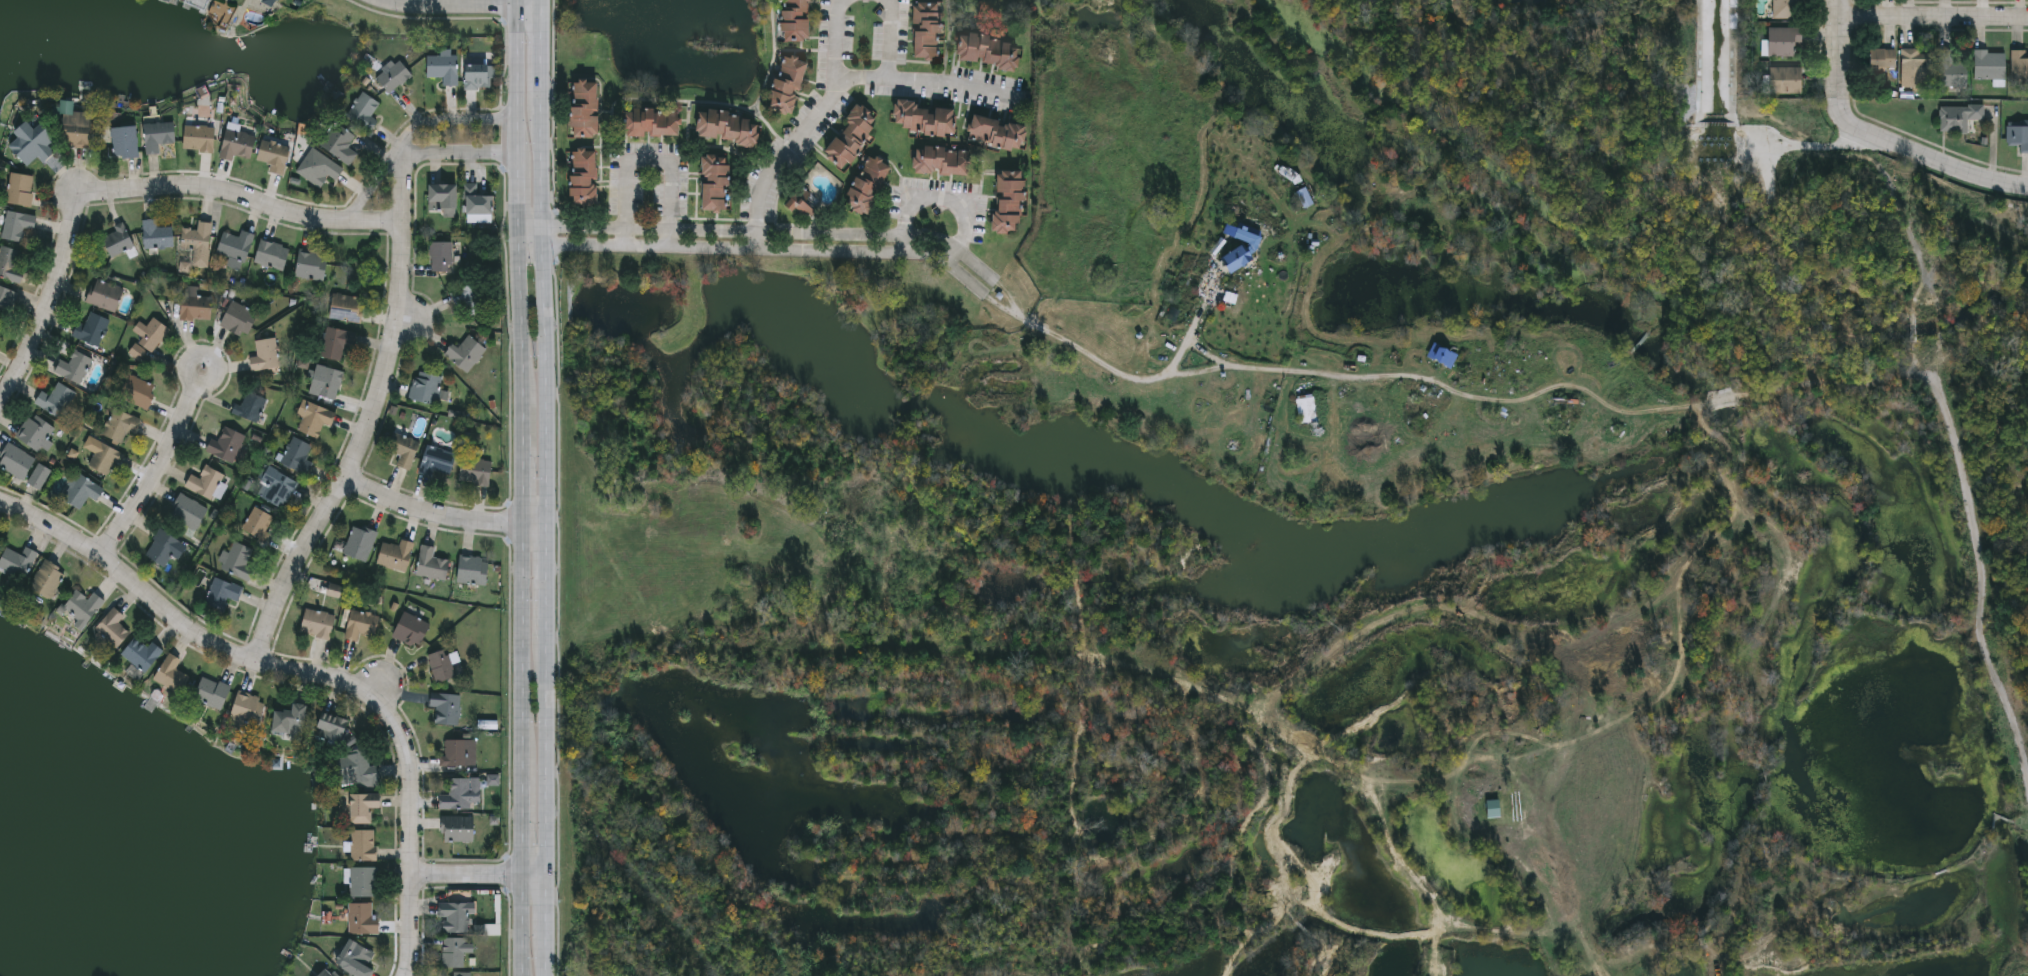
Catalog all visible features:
building: (271, 1)
building: (1787, 9)
road: (458, 10)
road: (1933, 15)
building: (796, 19)
building: (925, 29)
road: (895, 37)
building: (1782, 40)
road: (833, 41)
building: (988, 49)
building: (1880, 58)
building: (1988, 64)
building: (444, 66)
building: (2019, 66)
building: (1915, 68)
building: (1951, 70)
building: (394, 75)
building: (479, 76)
building: (1784, 80)
building: (786, 83)
road: (517, 89)
road: (832, 93)
building: (584, 108)
building: (363, 110)
building: (922, 117)
building: (1958, 117)
building: (648, 120)
road: (452, 122)
building: (727, 126)
building: (76, 129)
building: (996, 132)
building: (2018, 134)
building: (158, 135)
building: (851, 136)
road: (1877, 136)
building: (199, 137)
building: (124, 141)
building: (237, 143)
building: (341, 143)
building: (33, 148)
building: (274, 155)
road: (461, 157)
road: (650, 159)
building: (941, 159)
building: (322, 169)
building: (583, 175)
building: (714, 181)
building: (866, 183)
road: (134, 187)
building: (20, 188)
building: (443, 197)
building: (1306, 199)
building: (477, 200)
building: (1008, 200)
road: (517, 201)
road: (944, 201)
building: (17, 224)
road: (765, 231)
building: (157, 234)
road: (518, 235)
building: (118, 239)
building: (198, 242)
building: (236, 247)
road: (757, 251)
building: (272, 254)
building: (441, 255)
building: (1240, 260)
building: (10, 263)
building: (311, 264)
building: (105, 294)
building: (471, 295)
road: (1010, 297)
building: (6, 300)
building: (196, 303)
road: (1004, 305)
building: (346, 306)
building: (238, 318)
building: (150, 333)
building: (337, 341)
road: (519, 341)
building: (465, 352)
building: (265, 354)
building: (1442, 357)
building: (74, 366)
road: (1410, 377)
building: (326, 381)
building: (425, 386)
building: (138, 391)
building: (55, 398)
building: (1567, 403)
building: (250, 406)
building: (315, 418)
road: (368, 420)
building: (120, 424)
building: (35, 433)
building: (228, 445)
building: (404, 448)
building: (298, 453)
building: (105, 459)
building: (16, 460)
building: (437, 460)
road: (160, 466)
building: (475, 470)
building: (39, 475)
road: (520, 479)
building: (206, 482)
building: (277, 486)
road: (545, 487)
building: (81, 490)
building: (188, 510)
road: (431, 511)
building: (258, 522)
road: (533, 523)
building: (359, 541)
building: (163, 547)
building: (396, 554)
building: (238, 560)
building: (18, 561)
building: (431, 562)
building: (473, 569)
building: (47, 578)
building: (222, 593)
building: (83, 606)
building: (317, 622)
building: (361, 623)
building: (113, 627)
building: (411, 629)
building: (142, 653)
road: (520, 654)
road: (260, 664)
building: (441, 664)
building: (171, 672)
building: (212, 691)
building: (446, 706)
building: (247, 713)
building: (291, 719)
building: (332, 726)
building: (454, 752)
building: (358, 769)
building: (462, 793)
building: (364, 806)
building: (458, 828)
road: (520, 830)
building: (364, 845)
road: (465, 875)
road: (533, 875)
building: (364, 881)
building: (455, 915)
building: (362, 918)
road: (520, 925)
road: (410, 926)
building: (454, 952)
building: (356, 959)
building: (2020, 971)
building: (457, 975)

